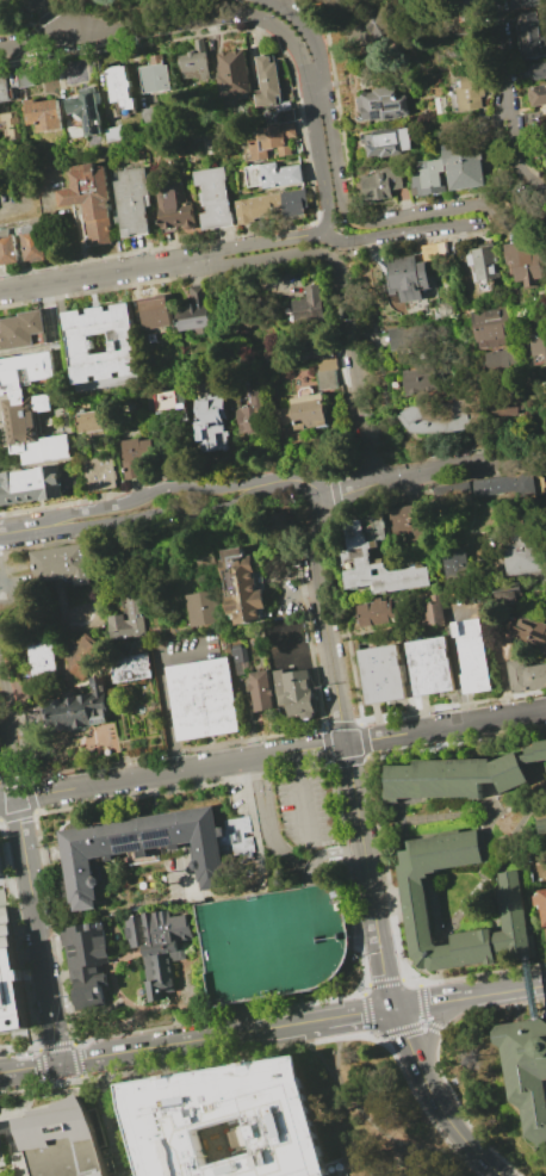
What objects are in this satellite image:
building: (533, 4)
road: (123, 7)
road: (60, 17)
road: (42, 19)
road: (163, 23)
building: (371, 23)
road: (15, 25)
road: (308, 31)
road: (287, 36)
building: (531, 36)
road: (42, 42)
building: (193, 61)
building: (539, 72)
building: (232, 74)
building: (154, 75)
building: (20, 79)
building: (118, 86)
building: (4, 88)
road: (317, 89)
building: (271, 92)
building: (470, 92)
building: (538, 95)
road: (509, 99)
building: (383, 104)
rooftop solar panel: (407, 104)
rooftop solar panel: (376, 105)
rooftop solar panel: (392, 105)
building: (439, 105)
building: (85, 110)
rooftop solar panel: (402, 112)
building: (44, 113)
rooftop solar panel: (379, 113)
building: (147, 114)
rooftop solar panel: (390, 116)
building: (8, 124)
building: (113, 134)
building: (271, 140)
building: (386, 141)
building: (545, 155)
road: (333, 160)
road: (319, 166)
building: (463, 167)
building: (272, 174)
road: (507, 175)
building: (427, 178)
road: (540, 181)
building: (380, 184)
building: (88, 198)
building: (213, 198)
building: (132, 202)
building: (292, 202)
building: (256, 208)
building: (174, 209)
road: (421, 212)
road: (411, 231)
road: (333, 240)
building: (31, 243)
road: (258, 243)
building: (7, 246)
building: (433, 252)
road: (262, 259)
building: (521, 262)
building: (483, 264)
road: (99, 277)
building: (405, 277)
building: (306, 304)
building: (194, 310)
building: (440, 310)
building: (156, 314)
building: (490, 327)
building: (20, 329)
building: (403, 335)
building: (80, 343)
building: (311, 345)
building: (536, 347)
building: (500, 359)
building: (25, 367)
road: (354, 367)
building: (325, 373)
building: (416, 382)
building: (166, 401)
building: (504, 408)
building: (303, 410)
building: (252, 413)
building: (441, 415)
building: (207, 420)
building: (91, 421)
building: (31, 429)
building: (132, 457)
road: (447, 466)
building: (99, 472)
road: (302, 481)
building: (30, 485)
road: (160, 487)
road: (347, 490)
building: (483, 490)
road: (168, 516)
building: (410, 522)
road: (26, 530)
road: (322, 530)
building: (525, 551)
building: (204, 557)
building: (356, 557)
building: (61, 563)
building: (458, 563)
building: (241, 587)
building: (509, 593)
road: (58, 596)
building: (201, 608)
building: (433, 611)
building: (378, 612)
building: (134, 614)
road: (30, 631)
building: (533, 633)
road: (328, 651)
building: (82, 655)
building: (472, 655)
building: (238, 658)
building: (41, 661)
building: (429, 666)
building: (129, 668)
building: (381, 674)
building: (526, 675)
building: (260, 689)
building: (294, 692)
road: (162, 693)
building: (201, 698)
road: (11, 706)
building: (74, 707)
road: (4, 724)
road: (443, 728)
building: (536, 753)
road: (170, 770)
building: (452, 778)
road: (300, 792)
parking lot: (306, 810)
building: (542, 825)
road: (268, 830)
rooftop solar panel: (159, 840)
rooftop solar panel: (128, 843)
building: (154, 847)
road: (352, 849)
road: (318, 860)
building: (0, 874)
road: (367, 875)
road: (14, 879)
park: (180, 879)
road: (31, 899)
building: (542, 904)
building: (416, 905)
road: (362, 930)
park: (328, 934)
park: (296, 935)
building: (272, 940)
parking lot: (272, 940)
park: (260, 941)
building: (157, 945)
park: (224, 947)
building: (85, 957)
building: (8, 977)
road: (532, 988)
road: (502, 991)
road: (426, 1003)
traffic signals: (396, 1008)
road: (353, 1014)
road: (243, 1016)
road: (410, 1027)
road: (434, 1027)
road: (405, 1034)
road: (185, 1042)
road: (274, 1047)
road: (247, 1057)
road: (435, 1062)
traffic signals: (58, 1064)
road: (29, 1067)
road: (178, 1071)
building: (526, 1071)
road: (98, 1085)
road: (30, 1090)
road: (64, 1097)
road: (349, 1097)
road: (108, 1115)
road: (4, 1116)
road: (8, 1118)
building: (225, 1121)
road: (4, 1122)
road: (451, 1124)
building: (61, 1140)
road: (422, 1149)
road: (542, 1152)
road: (1, 1157)
road: (18, 1170)
road: (20, 1172)

